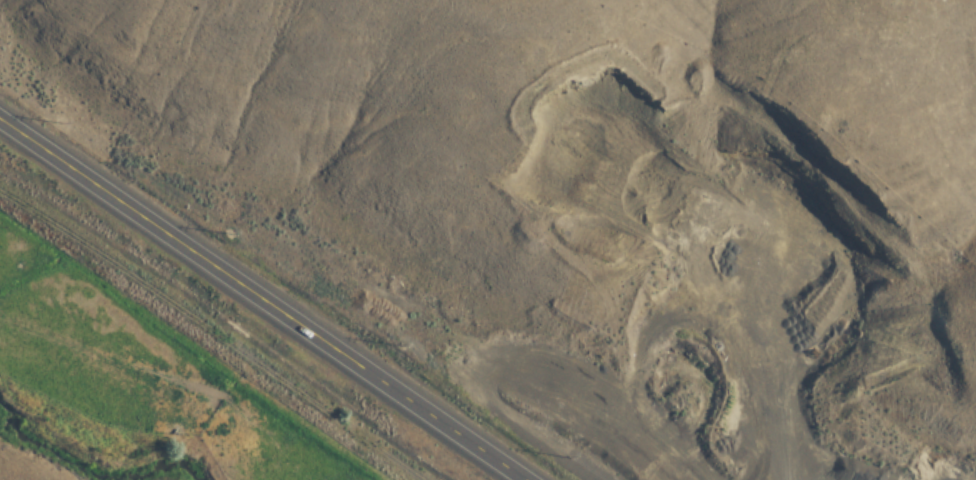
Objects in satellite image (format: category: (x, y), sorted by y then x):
road: (267, 294)

